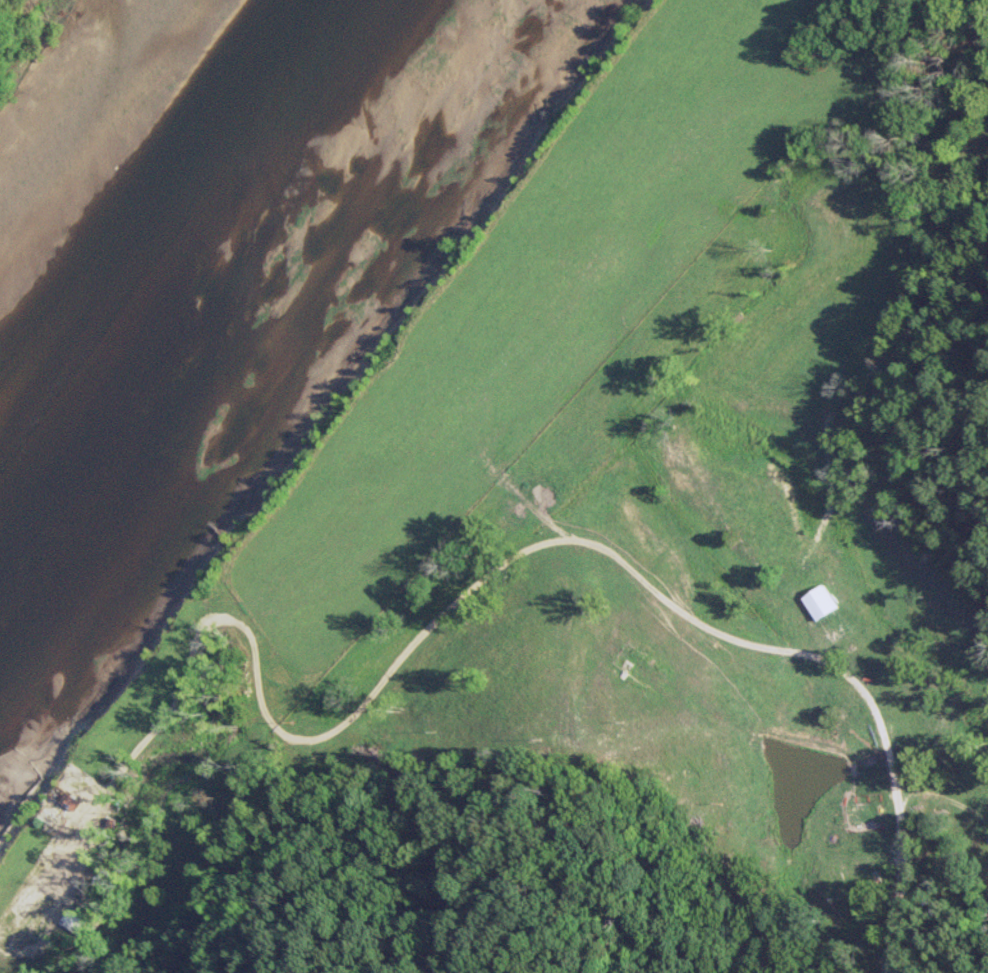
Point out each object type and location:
river: (219, 302)
building: (816, 602)
road: (804, 780)

